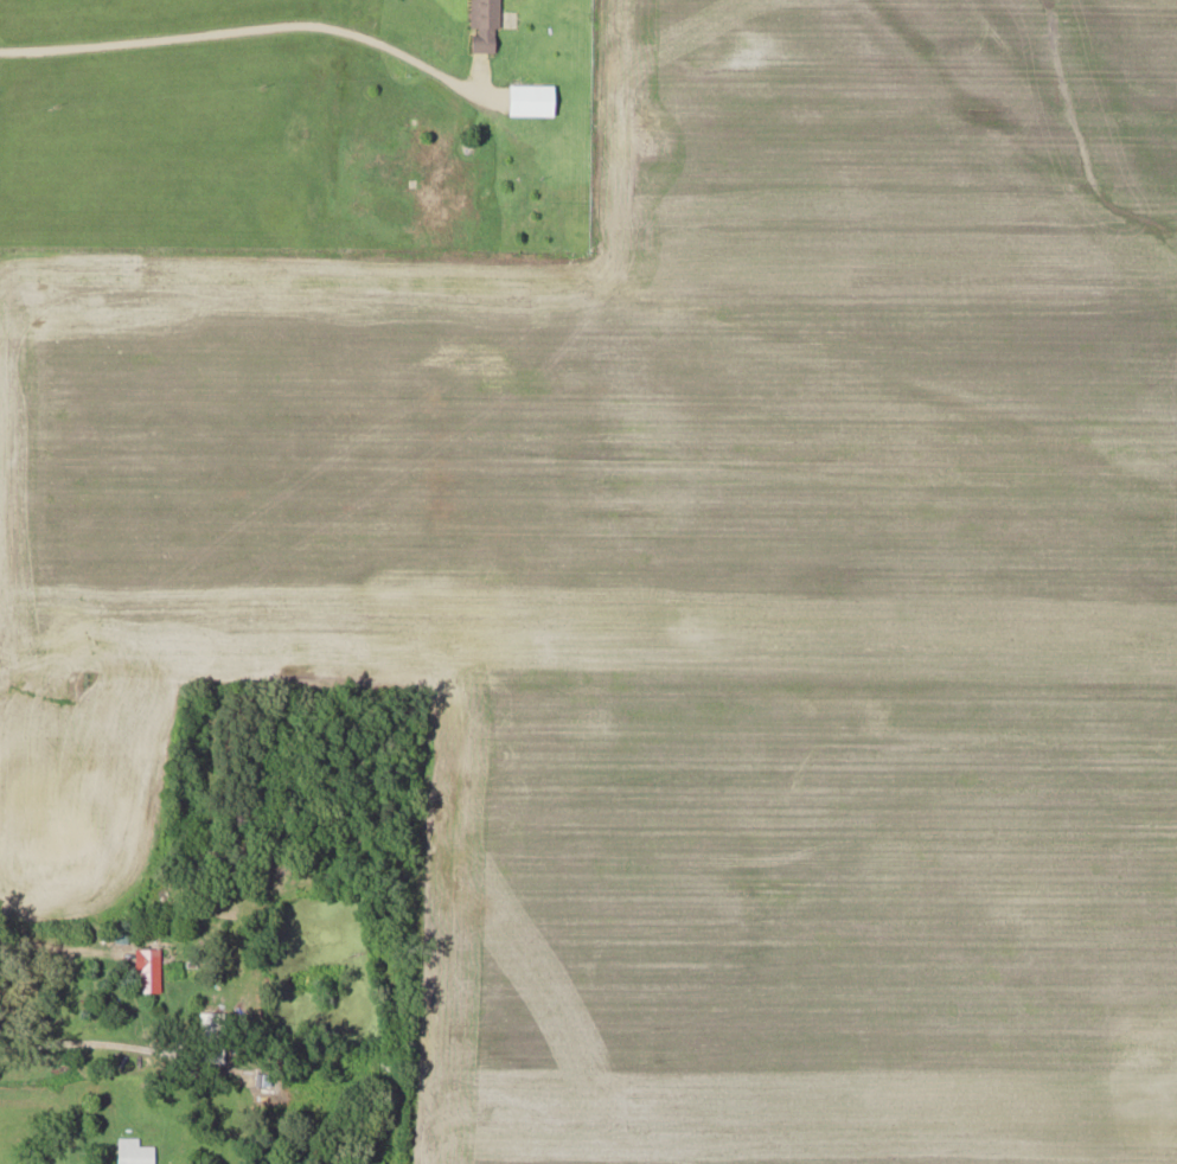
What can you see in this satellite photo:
building: (487, 25)
building: (529, 98)
building: (397, 172)
building: (152, 976)
building: (216, 1037)
building: (136, 1151)

